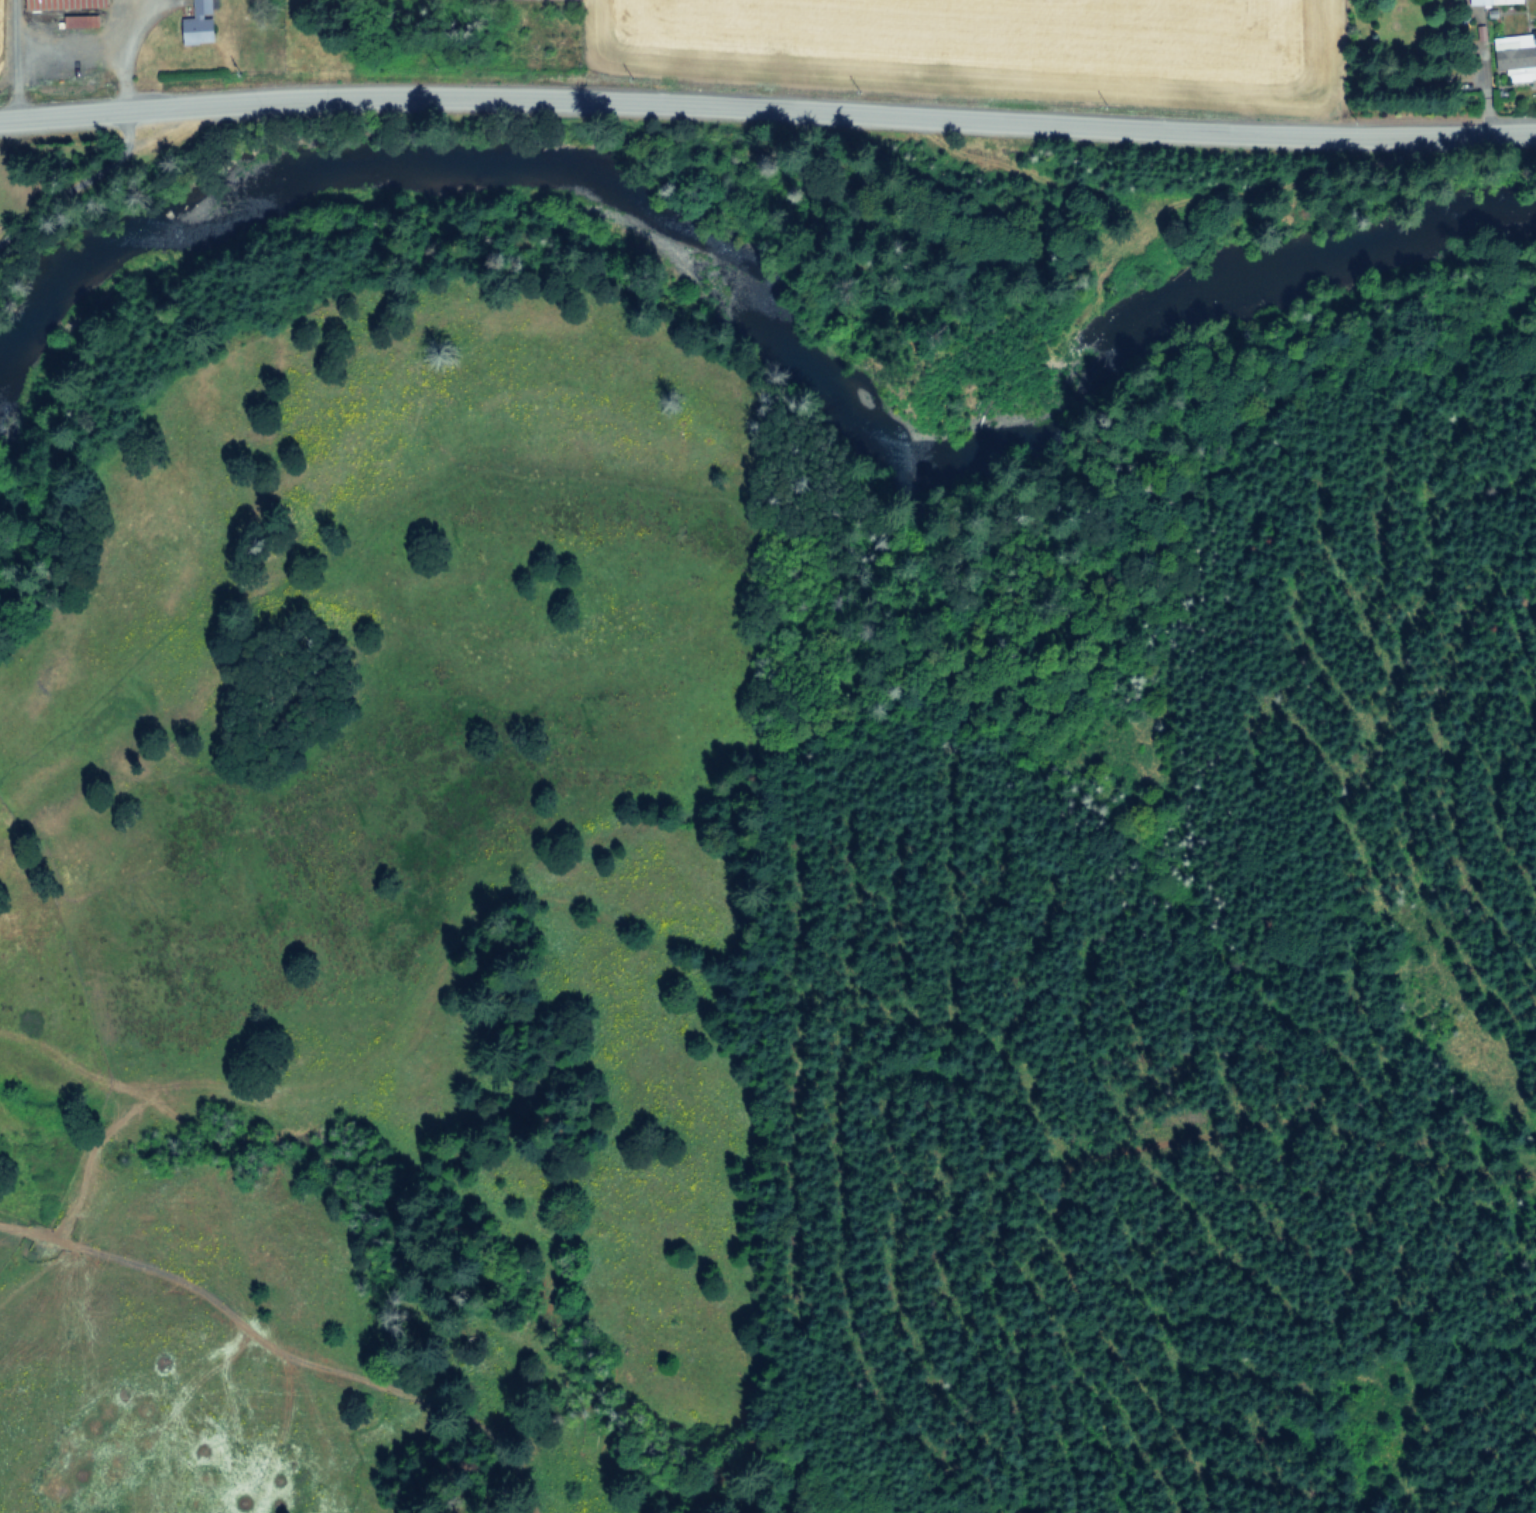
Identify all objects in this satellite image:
building: (68, 3)
road: (127, 20)
building: (201, 21)
road: (98, 34)
crop: (688, 40)
road: (9, 59)
road: (767, 102)
crop: (114, 1358)

